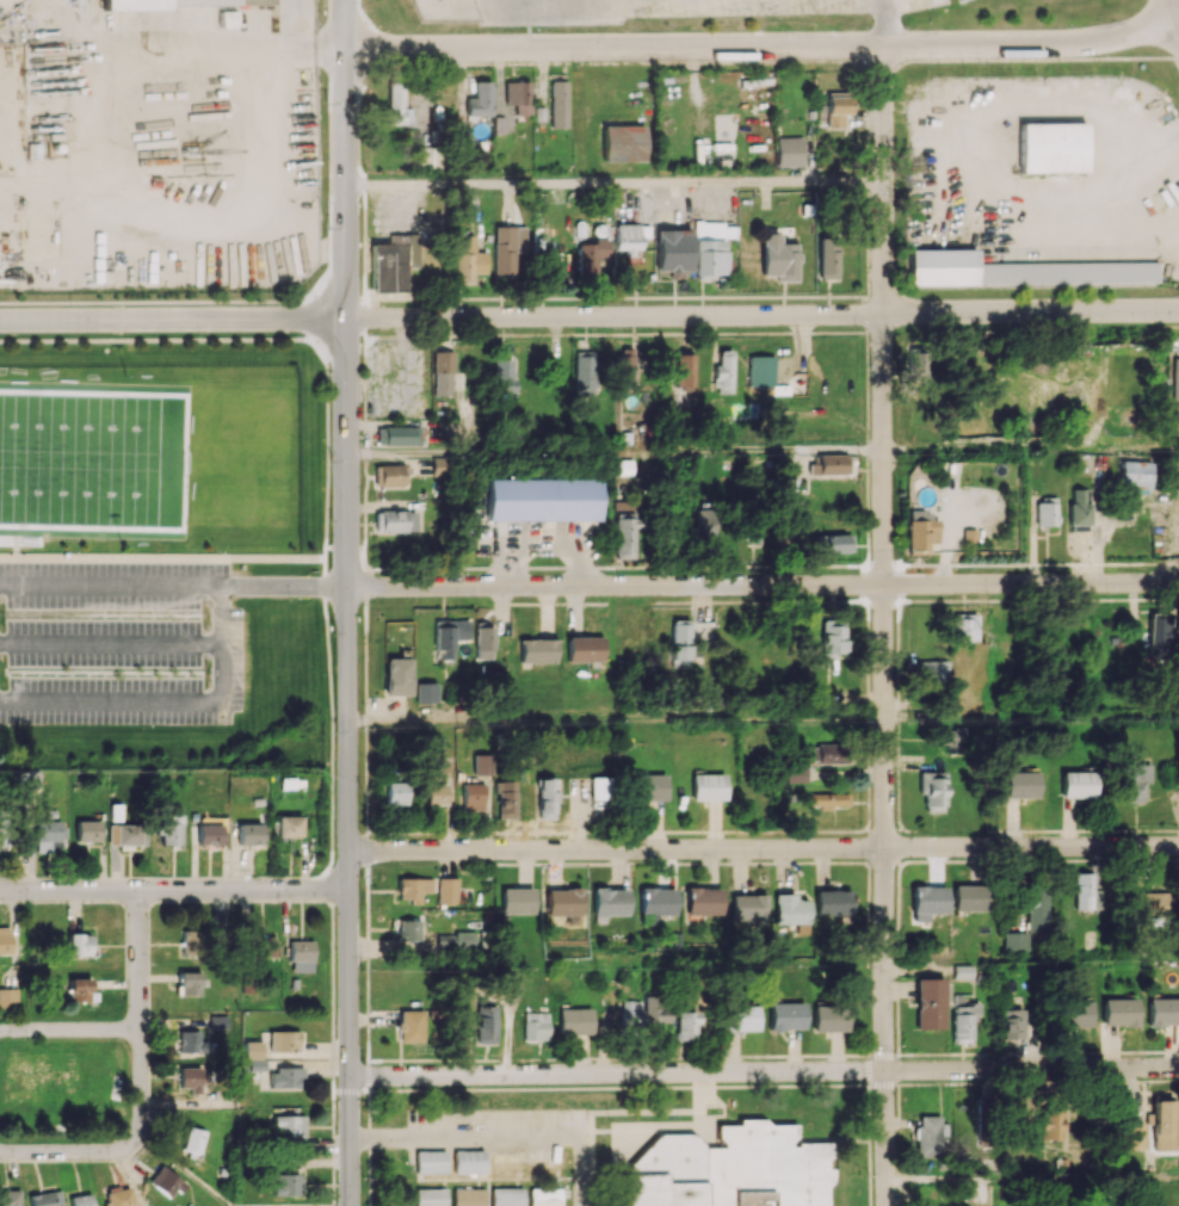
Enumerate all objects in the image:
building: (186, 2)
road: (884, 23)
road: (763, 47)
road: (291, 50)
building: (518, 95)
building: (480, 99)
building: (557, 104)
building: (397, 105)
building: (837, 110)
building: (499, 124)
building: (623, 142)
building: (1051, 147)
building: (789, 151)
road: (344, 159)
road: (965, 172)
road: (612, 186)
building: (629, 236)
building: (710, 247)
building: (507, 251)
building: (673, 251)
building: (828, 256)
building: (592, 258)
building: (778, 258)
building: (468, 260)
building: (394, 261)
building: (1019, 270)
road: (763, 315)
road: (172, 318)
building: (918, 364)
building: (624, 366)
building: (684, 370)
building: (760, 370)
building: (443, 372)
building: (585, 372)
building: (723, 372)
building: (1177, 372)
building: (504, 373)
building: (1177, 420)
building: (397, 435)
road: (1031, 449)
road: (615, 451)
park: (91, 459)
building: (829, 464)
building: (390, 475)
building: (1135, 475)
building: (541, 499)
building: (1080, 507)
building: (1045, 512)
building: (397, 521)
building: (705, 526)
building: (920, 530)
building: (625, 531)
building: (832, 543)
building: (156, 556)
road: (883, 558)
road: (111, 582)
road: (285, 585)
road: (764, 585)
building: (964, 627)
building: (449, 637)
building: (832, 639)
building: (1161, 639)
road: (111, 642)
building: (484, 642)
building: (680, 643)
building: (585, 649)
building: (538, 650)
building: (932, 672)
building: (397, 676)
building: (426, 692)
road: (166, 700)
road: (1031, 716)
road: (616, 718)
building: (952, 741)
building: (829, 753)
road: (348, 761)
building: (481, 763)
building: (796, 773)
building: (29, 779)
building: (1135, 781)
building: (1076, 784)
building: (1019, 785)
building: (648, 786)
building: (706, 786)
building: (598, 787)
building: (932, 790)
building: (395, 792)
building: (436, 793)
building: (471, 797)
building: (545, 798)
building: (504, 799)
building: (828, 799)
building: (289, 825)
building: (49, 830)
building: (87, 830)
building: (171, 830)
building: (2, 831)
building: (209, 834)
building: (249, 834)
building: (126, 835)
road: (763, 847)
road: (174, 888)
building: (413, 888)
building: (447, 890)
building: (1086, 892)
building: (969, 897)
building: (518, 899)
building: (611, 901)
building: (703, 901)
building: (928, 901)
building: (1150, 901)
building: (833, 902)
building: (656, 903)
building: (564, 904)
building: (748, 907)
building: (1038, 908)
building: (790, 909)
building: (408, 929)
building: (5, 940)
building: (464, 940)
building: (1016, 941)
building: (190, 942)
building: (79, 944)
building: (261, 946)
building: (301, 950)
road: (138, 958)
building: (963, 971)
building: (189, 983)
building: (79, 989)
building: (8, 998)
building: (930, 1003)
building: (1118, 1012)
building: (1162, 1012)
building: (653, 1013)
building: (630, 1014)
building: (1074, 1014)
building: (785, 1015)
building: (739, 1018)
building: (828, 1019)
building: (963, 1020)
building: (217, 1021)
building: (574, 1021)
building: (1013, 1021)
building: (409, 1025)
building: (483, 1025)
building: (533, 1026)
building: (684, 1026)
road: (69, 1028)
building: (283, 1040)
building: (189, 1041)
building: (253, 1055)
road: (1032, 1069)
road: (617, 1072)
building: (284, 1077)
building: (191, 1078)
building: (1162, 1122)
building: (1051, 1124)
building: (289, 1126)
building: (1129, 1130)
road: (464, 1136)
building: (928, 1136)
road: (885, 1138)
building: (192, 1140)
road: (124, 1146)
building: (468, 1161)
building: (506, 1161)
building: (544, 1161)
building: (431, 1162)
building: (730, 1169)
road: (1032, 1179)
building: (165, 1182)
building: (284, 1185)
building: (118, 1196)
building: (431, 1196)
building: (468, 1196)
building: (506, 1196)
building: (544, 1196)
building: (10, 1198)
building: (45, 1199)
building: (80, 1200)
building: (1104, 1205)

